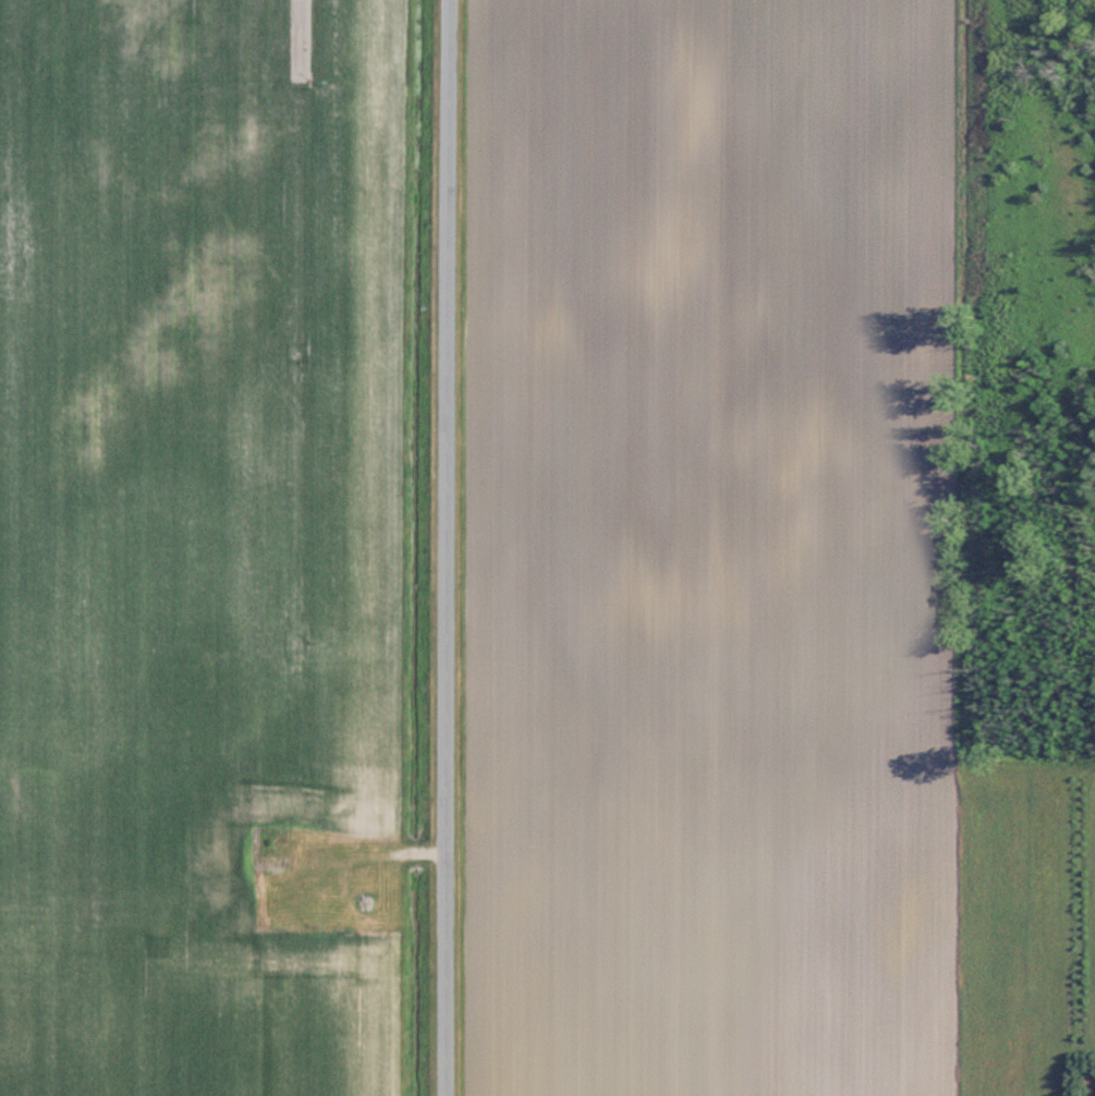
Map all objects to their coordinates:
road: (452, 548)

